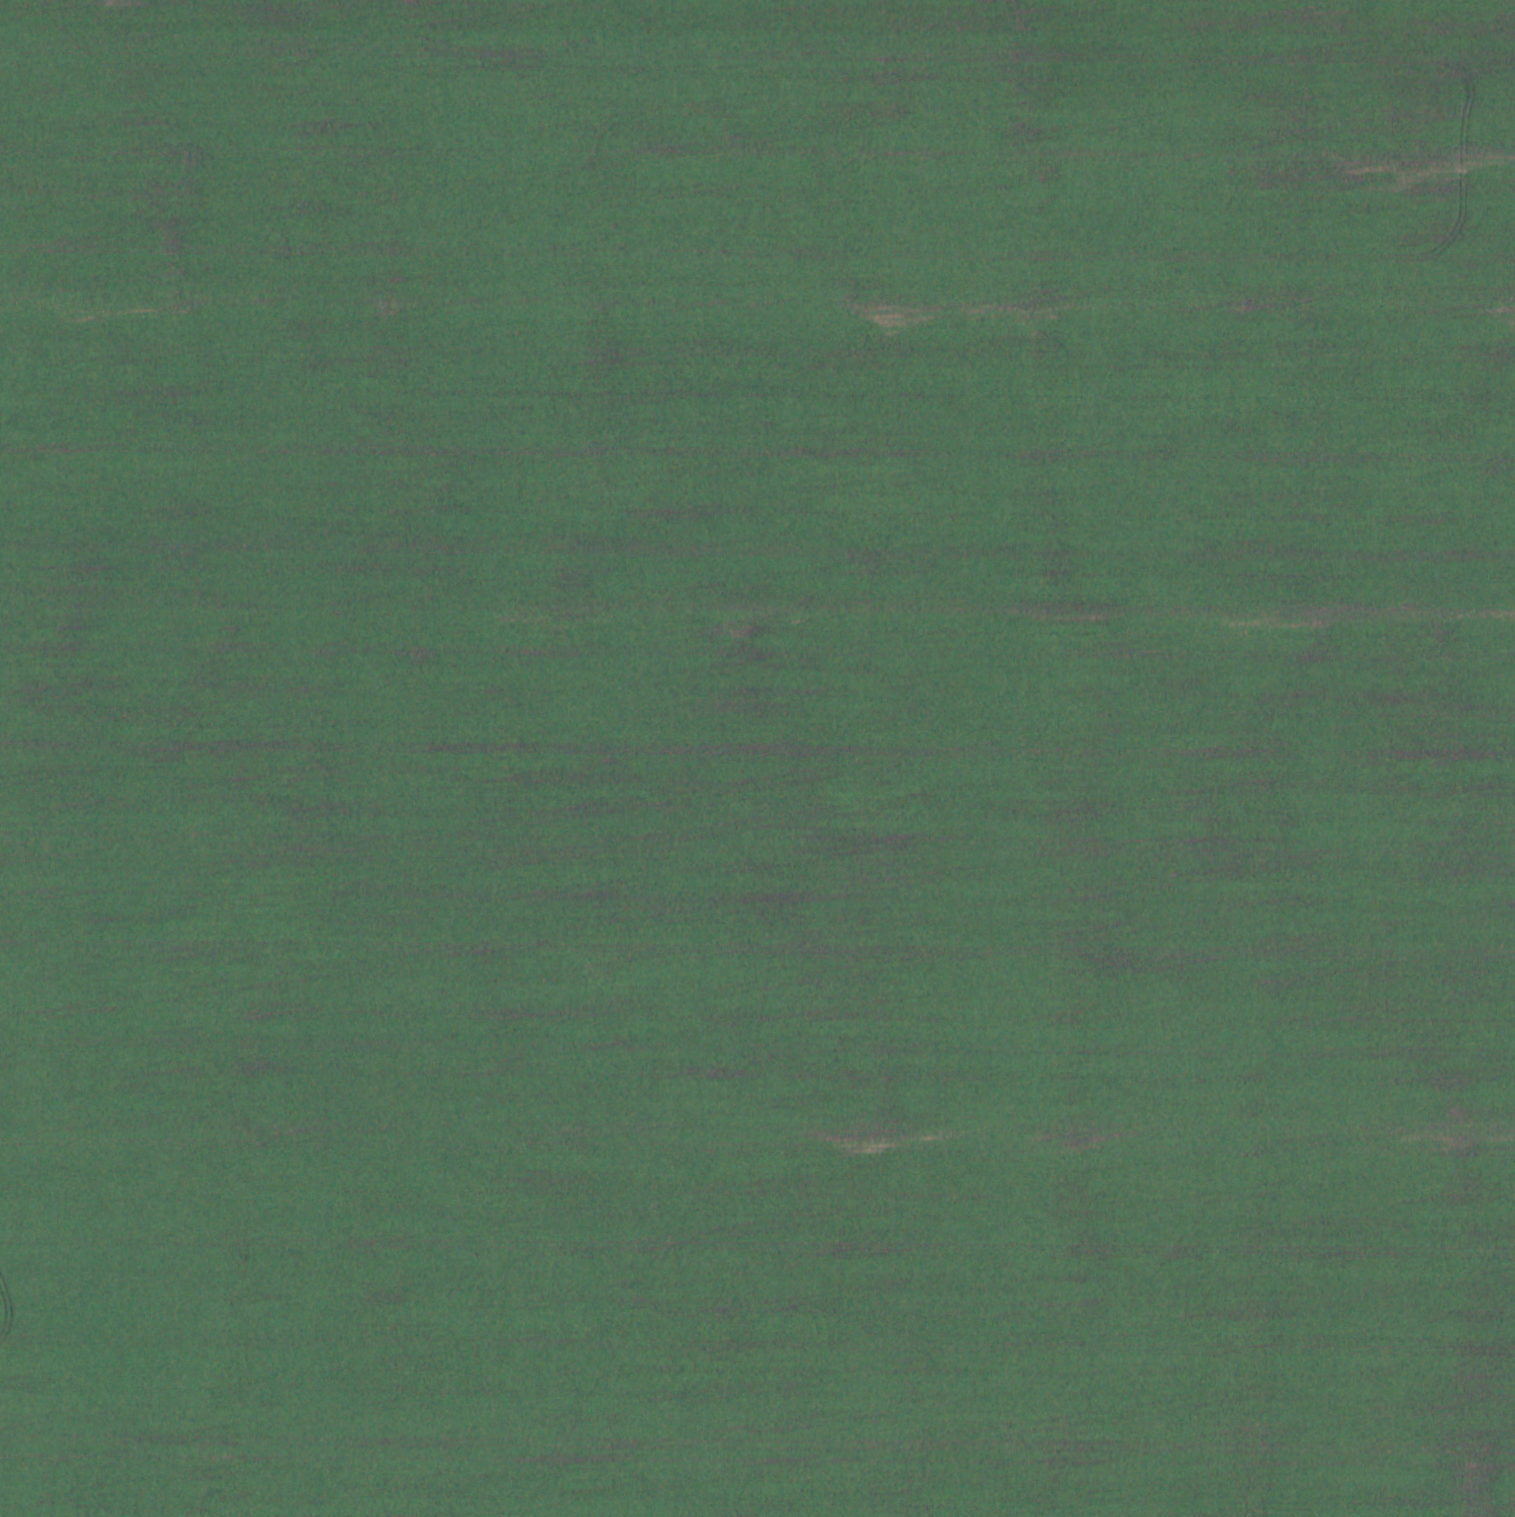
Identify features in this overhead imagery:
crop: (757, 758)

